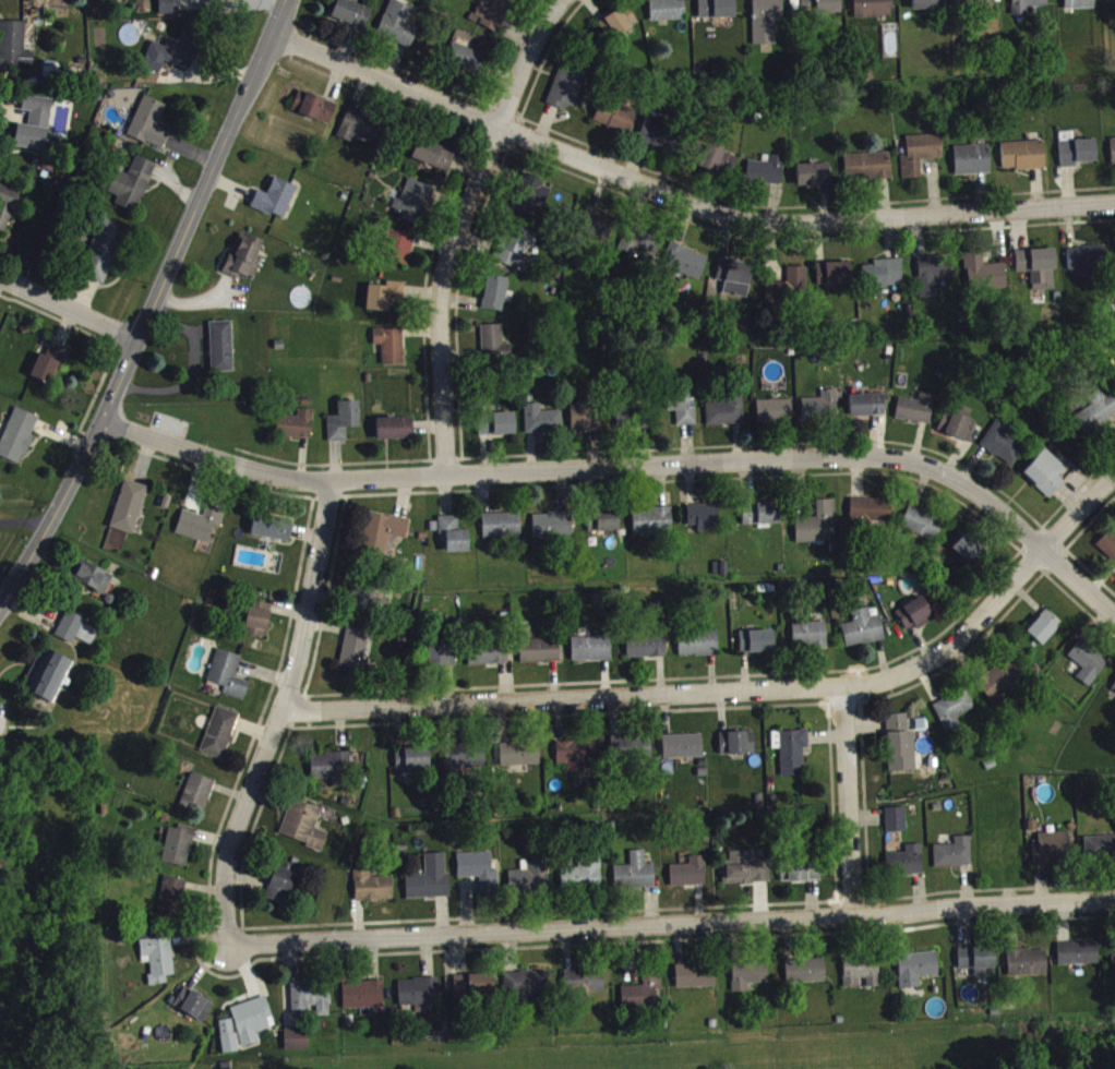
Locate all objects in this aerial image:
building: (217, 2)
building: (1113, 3)
building: (975, 7)
building: (1079, 7)
building: (930, 8)
building: (1028, 9)
building: (169, 10)
building: (820, 10)
building: (873, 11)
building: (717, 13)
building: (668, 15)
building: (494, 16)
building: (351, 19)
building: (767, 24)
building: (619, 28)
building: (399, 29)
building: (14, 50)
building: (175, 57)
building: (467, 64)
building: (566, 94)
building: (315, 113)
building: (616, 122)
building: (35, 130)
building: (151, 130)
building: (360, 133)
building: (663, 142)
building: (1076, 156)
building: (1113, 156)
building: (921, 159)
building: (434, 161)
building: (1023, 161)
building: (717, 166)
building: (973, 166)
building: (868, 172)
building: (767, 177)
building: (814, 180)
building: (133, 190)
road: (680, 194)
building: (533, 202)
building: (276, 204)
building: (415, 207)
building: (8, 209)
road: (458, 230)
building: (598, 230)
building: (638, 248)
building: (399, 253)
building: (517, 254)
building: (104, 256)
building: (244, 263)
building: (1087, 266)
building: (686, 267)
building: (1038, 273)
building: (834, 279)
building: (884, 279)
building: (934, 279)
building: (988, 280)
building: (732, 285)
building: (788, 292)
building: (495, 299)
building: (385, 302)
road: (152, 308)
road: (69, 310)
building: (495, 349)
building: (391, 351)
building: (221, 352)
building: (49, 370)
building: (867, 411)
building: (684, 415)
building: (916, 415)
building: (727, 417)
building: (775, 417)
building: (1096, 418)
traffic signals: (103, 420)
building: (586, 423)
building: (543, 425)
building: (344, 427)
building: (497, 430)
building: (296, 431)
building: (958, 432)
building: (395, 434)
building: (19, 442)
building: (1003, 449)
road: (630, 470)
building: (1046, 479)
building: (130, 513)
building: (871, 516)
building: (762, 519)
building: (704, 524)
building: (603, 527)
building: (652, 527)
building: (202, 528)
building: (817, 528)
road: (23, 529)
building: (923, 530)
building: (502, 531)
building: (554, 531)
building: (273, 533)
building: (383, 539)
building: (454, 540)
building: (1108, 551)
building: (968, 553)
building: (721, 575)
building: (94, 584)
building: (364, 602)
building: (915, 620)
building: (257, 625)
building: (1044, 633)
building: (863, 635)
building: (77, 636)
building: (810, 641)
building: (757, 648)
building: (698, 650)
building: (647, 652)
building: (355, 654)
building: (591, 654)
building: (540, 657)
building: (489, 660)
building: (441, 663)
building: (1089, 668)
building: (229, 681)
building: (48, 682)
building: (999, 686)
road: (739, 690)
building: (1114, 695)
building: (954, 716)
road: (281, 717)
building: (897, 729)
building: (220, 738)
building: (738, 749)
building: (632, 752)
building: (683, 753)
building: (901, 757)
building: (793, 758)
building: (576, 760)
building: (518, 762)
building: (412, 765)
building: (465, 765)
building: (331, 771)
building: (199, 800)
road: (850, 802)
building: (896, 826)
building: (304, 831)
building: (179, 852)
building: (1100, 854)
building: (1053, 855)
building: (955, 860)
building: (906, 867)
building: (748, 873)
building: (479, 876)
building: (800, 876)
building: (691, 878)
building: (584, 879)
building: (635, 879)
building: (431, 885)
building: (529, 885)
building: (283, 888)
building: (373, 893)
building: (172, 902)
road: (673, 925)
building: (1078, 959)
building: (158, 965)
building: (1113, 965)
building: (979, 966)
building: (1028, 969)
building: (916, 974)
building: (806, 977)
building: (862, 978)
building: (748, 982)
building: (696, 983)
building: (584, 986)
building: (639, 987)
building: (475, 992)
building: (528, 993)
building: (418, 998)
building: (363, 1000)
building: (312, 1005)
building: (194, 1011)
building: (253, 1026)
building: (229, 1042)
building: (298, 1045)
park: (783, 1053)

